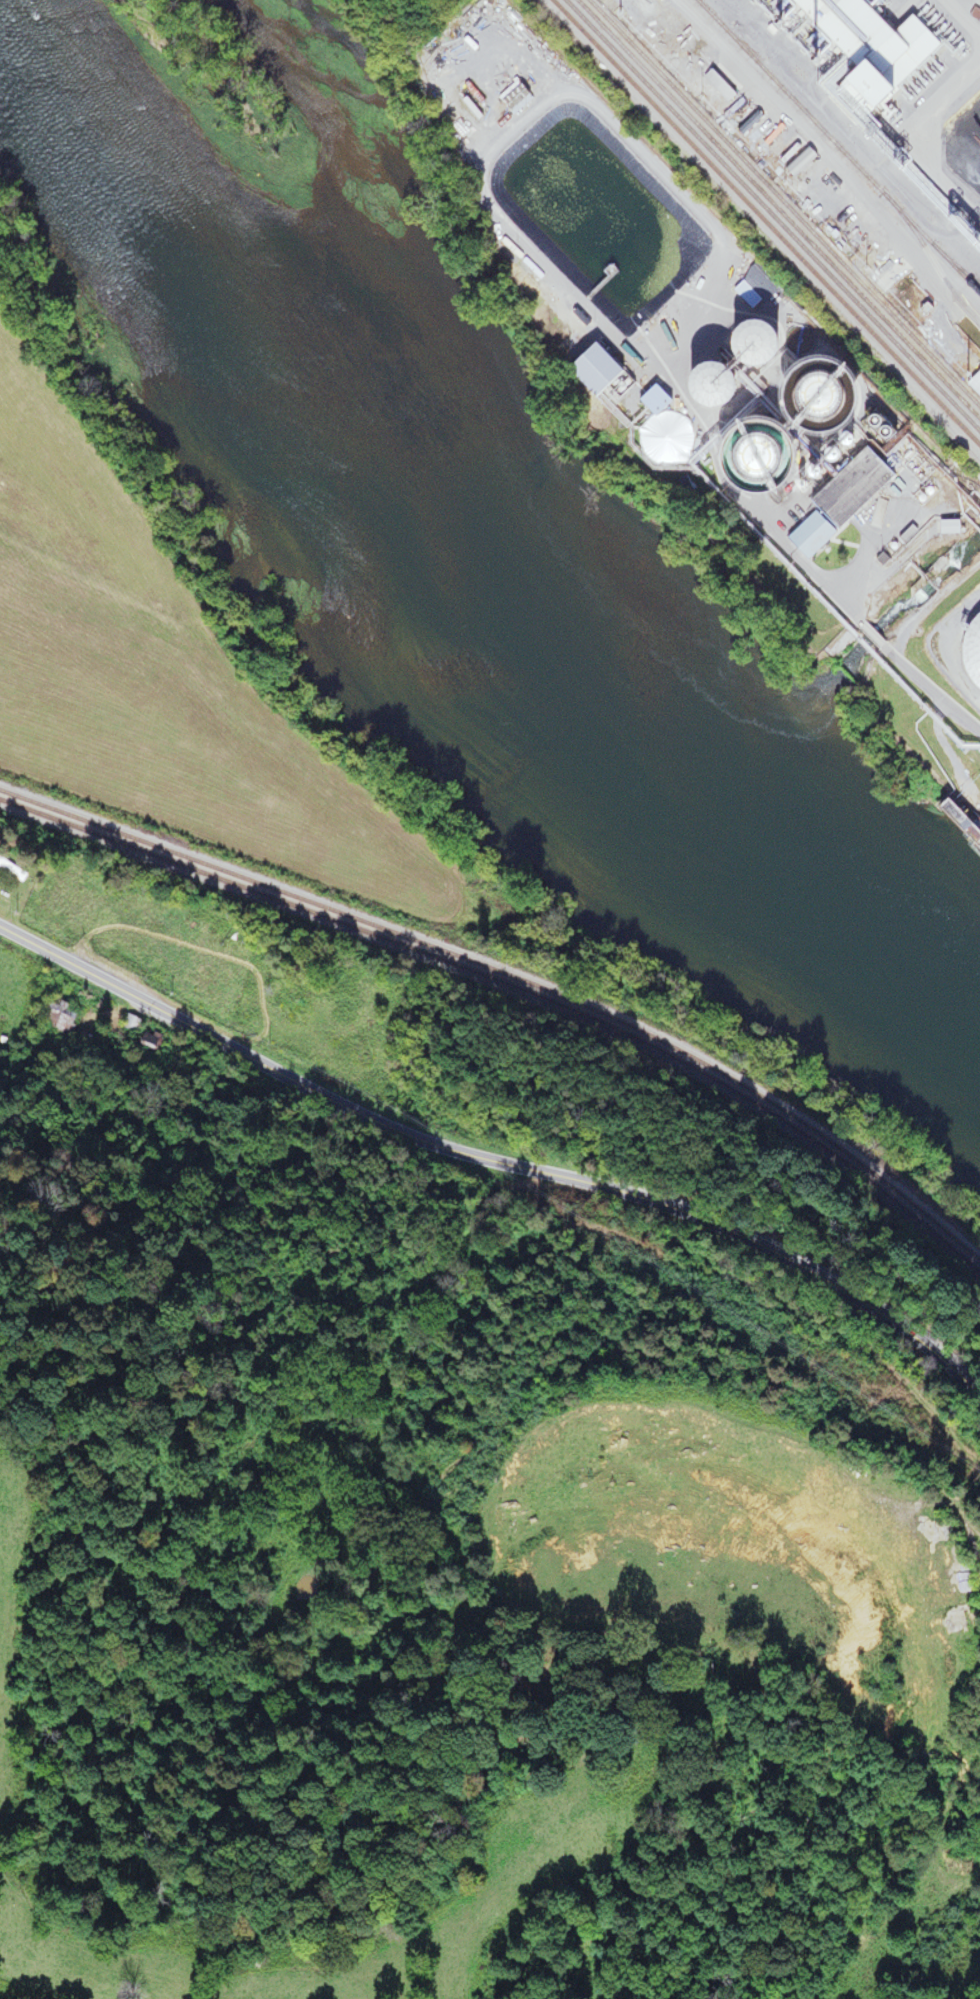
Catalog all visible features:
building: (979, 0)
building: (715, 85)
railway: (836, 148)
building: (797, 163)
railway: (787, 206)
building: (753, 288)
building: (737, 343)
building: (662, 345)
building: (979, 354)
building: (586, 369)
building: (973, 383)
building: (796, 395)
building: (647, 399)
building: (734, 447)
building: (832, 503)
building: (943, 527)
river: (452, 557)
building: (969, 651)
road: (937, 675)
building: (9, 870)
building: (185, 918)
railway: (514, 980)
building: (150, 1043)
road: (493, 1161)
road: (953, 1504)
road: (944, 1820)

